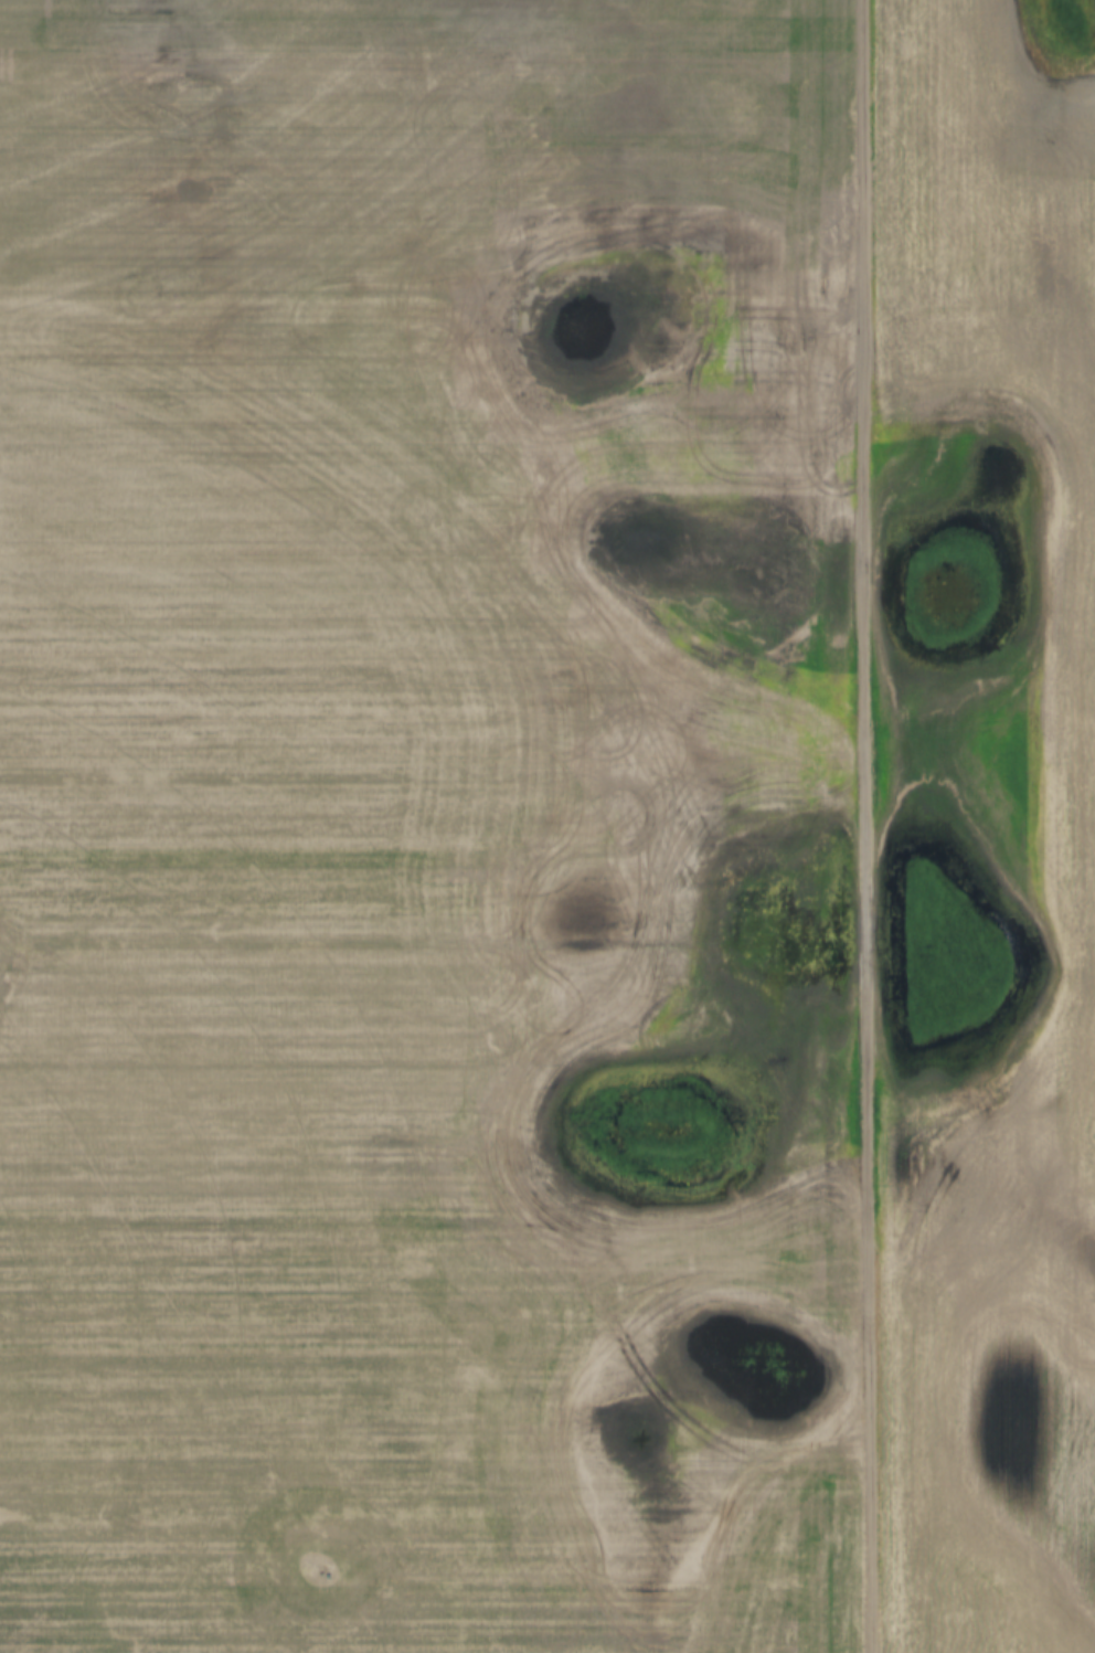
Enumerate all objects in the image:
road: (869, 826)

